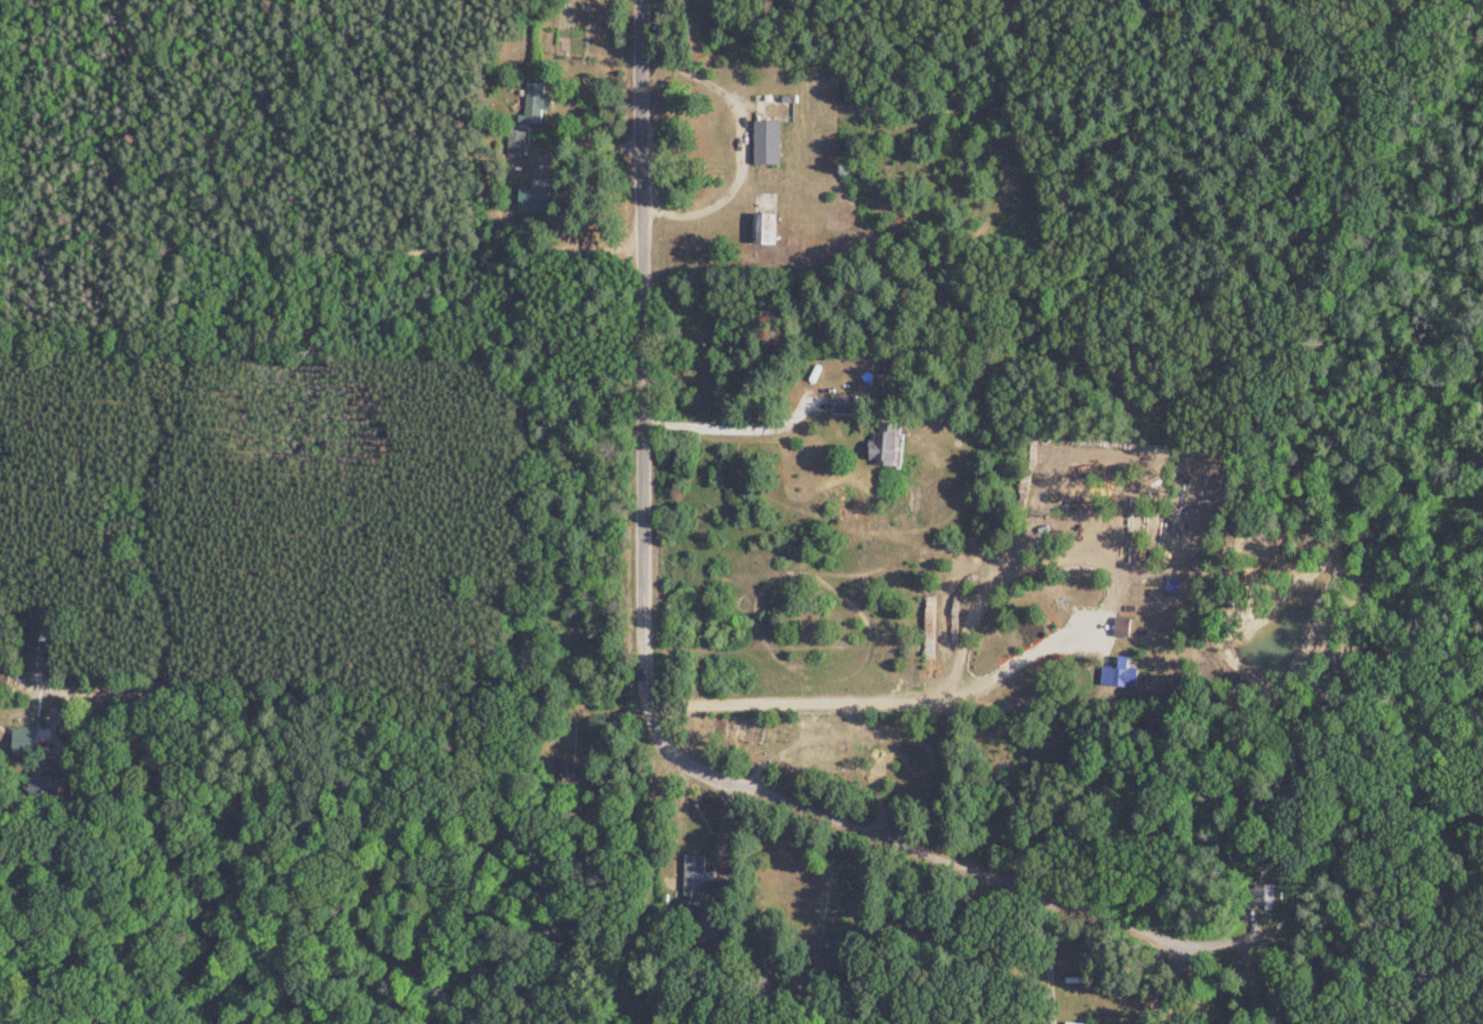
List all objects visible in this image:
building: (530, 104)
road: (737, 140)
building: (764, 143)
building: (532, 198)
building: (761, 228)
road: (645, 351)
road: (730, 425)
building: (880, 446)
building: (1119, 627)
road: (1029, 652)
building: (1116, 675)
road: (890, 821)
building: (692, 877)
road: (827, 882)
road: (685, 904)
road: (1050, 947)
road: (1177, 967)

